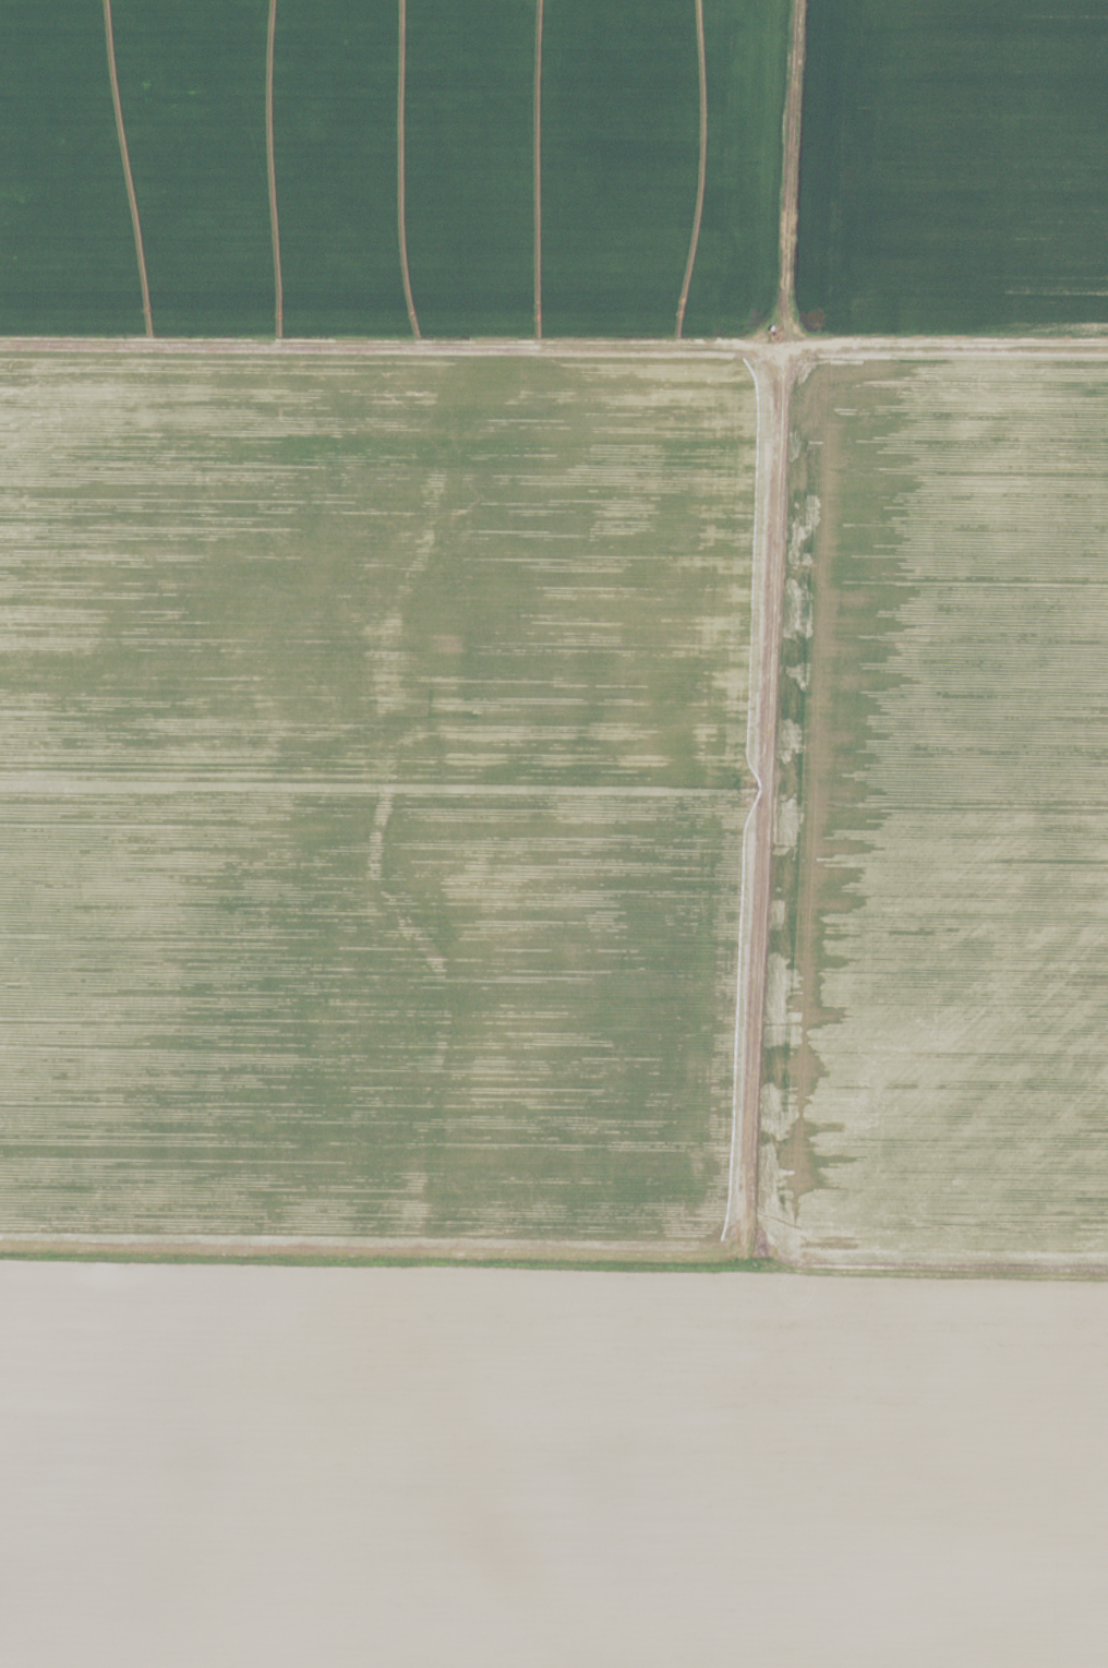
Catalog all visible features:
road: (554, 32)
road: (764, 648)

